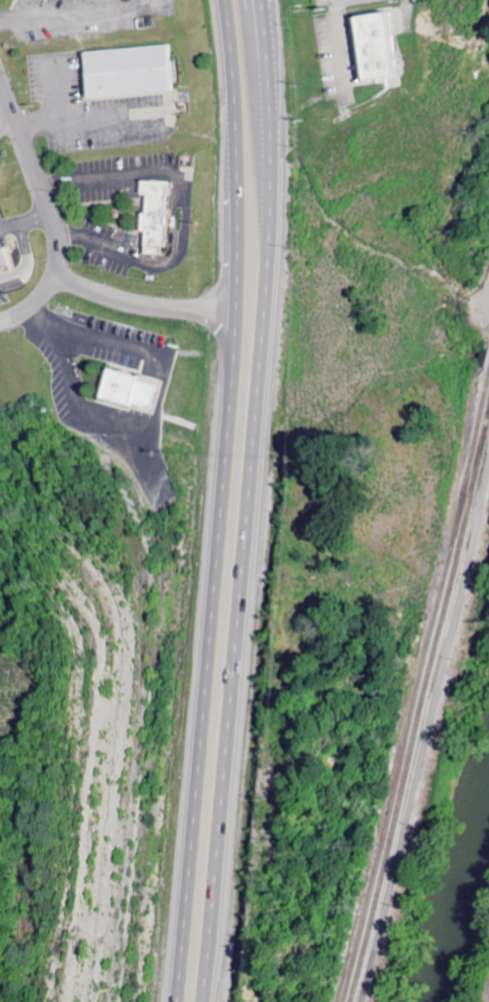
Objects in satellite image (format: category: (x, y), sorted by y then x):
road: (83, 10)
building: (375, 48)
building: (130, 69)
building: (157, 213)
road: (46, 218)
building: (3, 261)
road: (141, 305)
building: (126, 392)
road: (218, 501)
road: (250, 501)
railway: (413, 686)
railway: (418, 708)
road: (426, 741)
river: (472, 931)
building: (488, 1000)
parking lot: (488, 1000)

